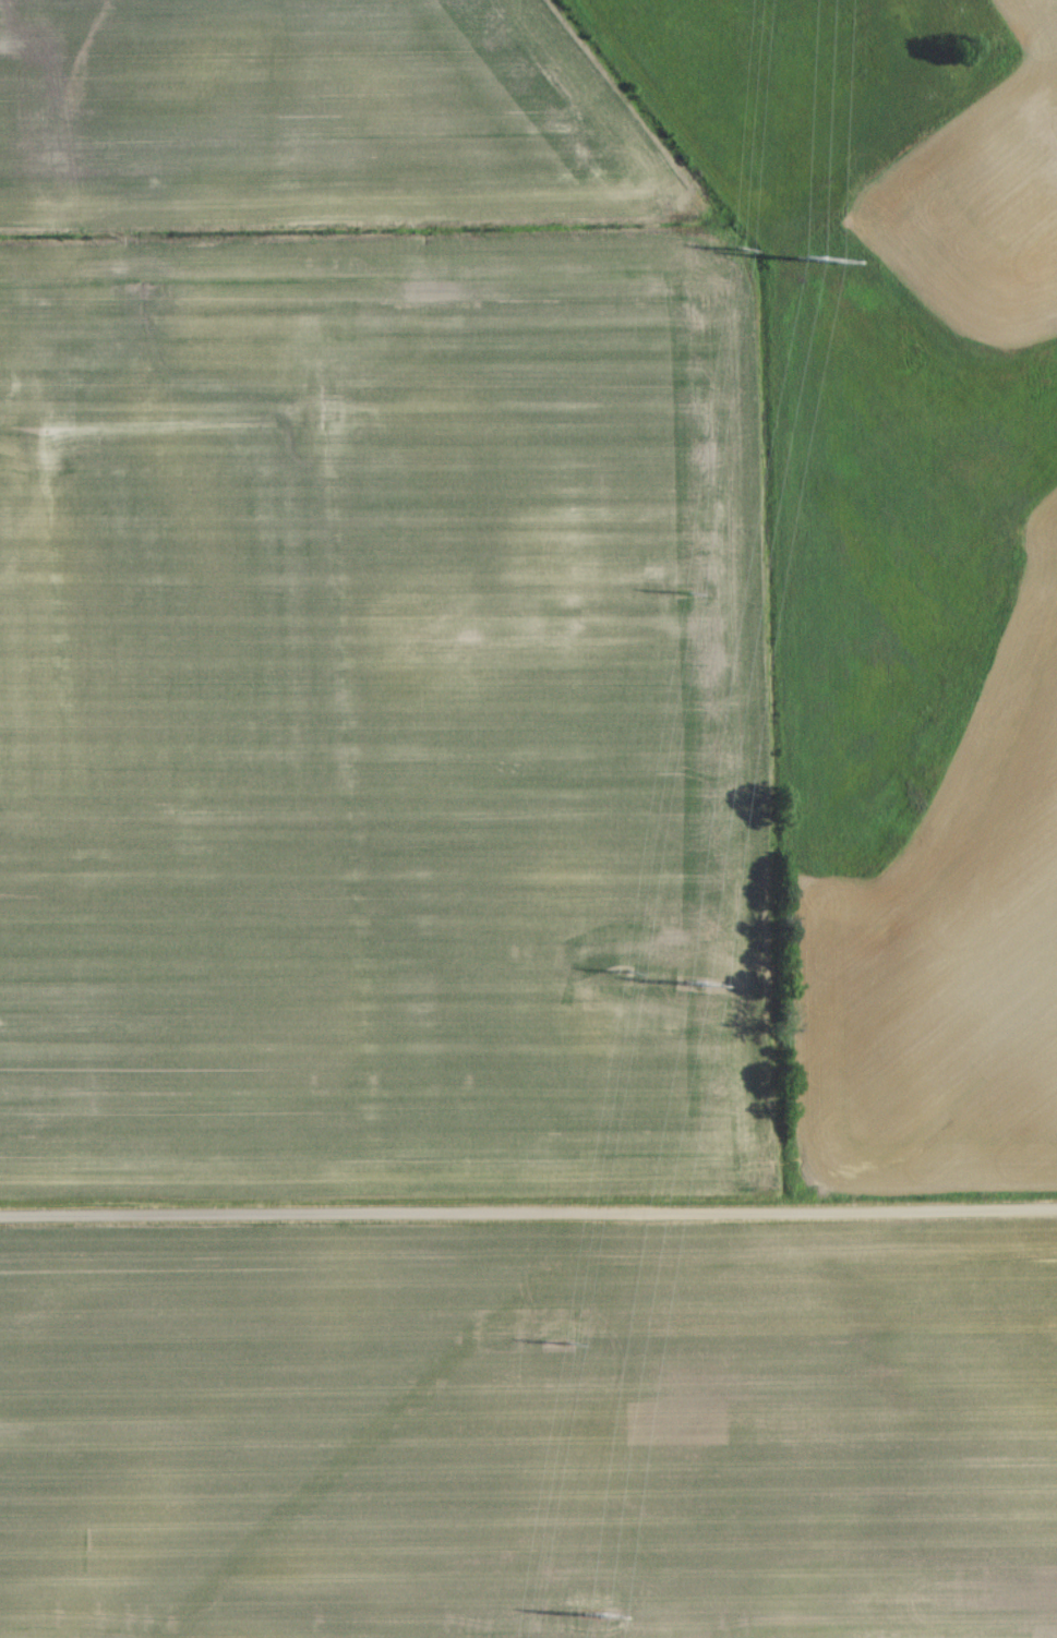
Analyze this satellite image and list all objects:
power tower: (805, 263)
power tower: (695, 991)
road: (528, 1213)
power tower: (591, 1624)

